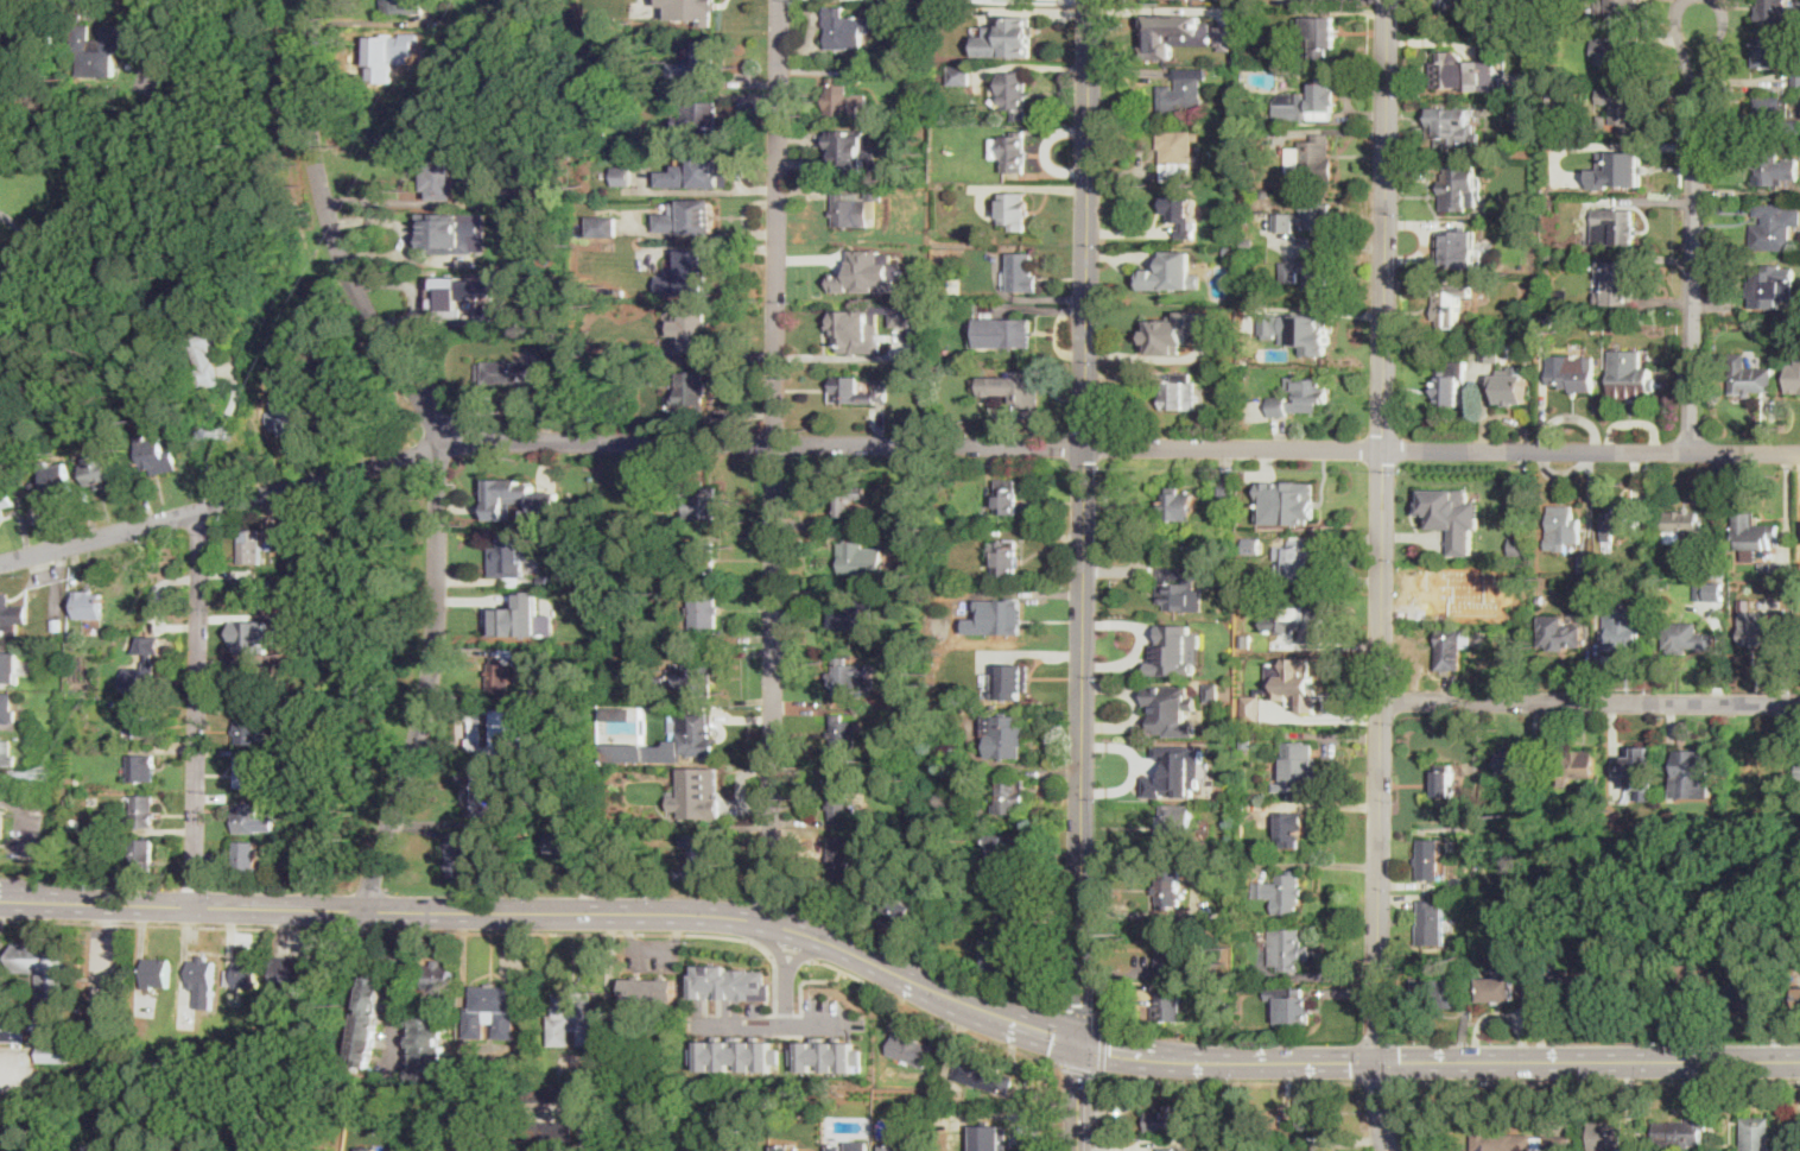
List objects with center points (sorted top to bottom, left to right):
building: (943, 0)
building: (1459, 2)
building: (395, 6)
building: (1620, 8)
building: (702, 10)
building: (1777, 12)
building: (1257, 15)
building: (516, 18)
building: (647, 20)
building: (847, 30)
building: (1172, 32)
building: (30, 34)
building: (1225, 36)
building: (1320, 36)
building: (1007, 38)
building: (488, 48)
road: (159, 49)
building: (1612, 49)
building: (96, 50)
building: (1774, 52)
building: (1628, 53)
building: (385, 57)
building: (697, 62)
building: (1235, 63)
building: (1451, 72)
building: (965, 74)
building: (1796, 77)
building: (1184, 90)
building: (1015, 93)
building: (1795, 93)
building: (837, 97)
building: (1308, 102)
building: (1624, 109)
building: (914, 113)
building: (698, 114)
building: (1772, 116)
building: (742, 120)
building: (1603, 120)
building: (1236, 124)
building: (1456, 129)
building: (924, 137)
building: (1012, 151)
building: (842, 154)
building: (1178, 154)
building: (1312, 158)
building: (1623, 166)
building: (1774, 169)
building: (701, 172)
road: (279, 173)
building: (625, 175)
road: (134, 178)
building: (442, 178)
building: (1456, 188)
building: (1266, 191)
road: (401, 202)
building: (1551, 202)
building: (856, 207)
building: (692, 209)
building: (1015, 210)
building: (1180, 214)
building: (1298, 220)
building: (604, 224)
building: (1249, 226)
building: (1612, 227)
park: (201, 228)
building: (1774, 228)
building: (454, 233)
building: (1261, 241)
road: (1696, 242)
building: (1229, 246)
building: (1541, 248)
building: (1458, 249)
building: (1551, 259)
road: (30, 265)
building: (1170, 272)
building: (866, 273)
building: (1022, 273)
building: (690, 276)
building: (1308, 276)
building: (668, 279)
building: (1621, 284)
building: (1766, 289)
building: (1449, 306)
building: (924, 309)
building: (1547, 320)
building: (1269, 325)
building: (1175, 329)
building: (690, 330)
building: (853, 330)
building: (1003, 330)
building: (1306, 331)
building: (211, 346)
building: (1777, 347)
road: (1146, 354)
building: (1490, 354)
building: (512, 372)
building: (1235, 373)
building: (1573, 375)
building: (1633, 375)
building: (912, 377)
building: (1748, 377)
building: (1793, 378)
building: (844, 386)
building: (1449, 386)
building: (1016, 388)
building: (1511, 388)
building: (692, 391)
building: (1312, 391)
building: (1178, 392)
building: (1279, 406)
building: (292, 417)
road: (474, 420)
power tower: (227, 436)
road: (215, 441)
road: (892, 443)
road: (441, 445)
building: (156, 456)
road: (773, 462)
building: (97, 472)
building: (58, 479)
building: (36, 491)
building: (1227, 494)
building: (1008, 497)
building: (6, 498)
building: (519, 498)
building: (1298, 499)
building: (851, 501)
building: (663, 502)
building: (702, 504)
building: (1178, 505)
building: (638, 511)
building: (1246, 519)
road: (1083, 520)
building: (1618, 524)
building: (1681, 525)
building: (1454, 527)
building: (1565, 527)
road: (1382, 531)
building: (1750, 532)
building: (918, 535)
building: (1250, 539)
building: (253, 546)
building: (274, 546)
building: (1519, 546)
building: (918, 549)
building: (1193, 550)
building: (509, 557)
building: (704, 557)
building: (853, 557)
building: (1006, 559)
building: (1297, 561)
building: (1584, 563)
building: (1717, 570)
building: (1782, 570)
building: (1179, 584)
building: (1606, 590)
building: (1701, 590)
building: (1447, 593)
building: (1717, 593)
building: (251, 594)
building: (920, 596)
building: (1540, 599)
building: (90, 605)
building: (702, 611)
building: (856, 613)
building: (13, 616)
building: (996, 616)
building: (522, 618)
building: (1295, 621)
building: (57, 626)
building: (1623, 627)
building: (1763, 633)
building: (249, 635)
building: (1567, 635)
building: (1687, 637)
building: (1173, 649)
building: (1452, 649)
building: (507, 652)
building: (893, 653)
building: (938, 663)
building: (9, 665)
park: (357, 666)
building: (145, 669)
building: (502, 670)
building: (692, 678)
building: (845, 679)
building: (659, 681)
building: (1012, 682)
building: (1293, 682)
building: (249, 683)
building: (1213, 691)
building: (1247, 697)
road: (1591, 701)
road: (196, 709)
building: (1173, 709)
building: (622, 713)
building: (6, 715)
building: (142, 723)
building: (249, 729)
building: (502, 731)
building: (843, 733)
building: (696, 736)
building: (1006, 736)
building: (6, 753)
building: (850, 754)
building: (1514, 763)
building: (1758, 764)
building: (1577, 765)
building: (1293, 766)
building: (1476, 766)
building: (140, 767)
building: (1637, 767)
building: (1173, 770)
power tower: (45, 772)
building: (248, 772)
building: (1693, 773)
building: (77, 780)
building: (1445, 782)
building: (477, 793)
building: (699, 795)
building: (843, 796)
building: (1010, 796)
building: (1270, 798)
building: (1736, 802)
building: (144, 811)
building: (915, 818)
building: (247, 820)
building: (1175, 822)
building: (75, 823)
building: (103, 824)
building: (1, 826)
building: (1291, 829)
building: (570, 845)
building: (77, 846)
building: (1010, 853)
building: (247, 854)
building: (461, 854)
building: (142, 856)
building: (701, 858)
building: (843, 858)
building: (917, 859)
building: (1431, 860)
building: (1170, 890)
building: (1282, 893)
road: (179, 907)
building: (900, 907)
building: (1432, 924)
road: (194, 925)
road: (406, 930)
road: (629, 932)
road: (777, 948)
building: (1170, 949)
building: (1288, 950)
road: (791, 951)
road: (799, 955)
building: (1003, 956)
road: (873, 965)
building: (158, 973)
building: (292, 974)
building: (242, 975)
building: (439, 978)
road: (807, 979)
building: (197, 984)
building: (730, 984)
building: (1246, 987)
building: (1586, 987)
road: (398, 988)
building: (1678, 988)
building: (648, 989)
building: (1498, 989)
building: (1435, 991)
building: (1750, 993)
building: (1796, 998)
road: (786, 1001)
building: (44, 1003)
building: (1168, 1004)
building: (1291, 1004)
road: (1073, 1010)
building: (492, 1012)
road: (932, 1014)
building: (369, 1020)
building: (575, 1020)
road: (773, 1026)
road: (1056, 1032)
road: (318, 1039)
road: (1378, 1039)
traffic signals: (1082, 1043)
road: (1103, 1045)
building: (427, 1049)
building: (911, 1050)
building: (734, 1056)
building: (825, 1057)
road: (1396, 1060)
road: (1361, 1061)
road: (1589, 1062)
traffic signals: (1377, 1063)
road: (1077, 1068)
road: (14, 1074)
building: (984, 1076)
road: (1378, 1080)
road: (1230, 1081)
road: (1598, 1081)
building: (550, 1092)
building: (625, 1093)
building: (52, 1096)
road: (1079, 1096)
building: (1217, 1099)
building: (1736, 1106)
road: (1378, 1107)
road: (1097, 1111)
building: (1308, 1112)
building: (1168, 1119)
building: (943, 1124)
building: (549, 1132)
building: (1681, 1133)
road: (589, 1134)
building: (1757, 1134)
building: (990, 1137)
building: (1609, 1138)
building: (1516, 1140)
building: (858, 1145)
building: (898, 1146)
building: (96, 1147)
building: (125, 1147)
building: (186, 1147)
building: (253, 1147)
building: (279, 1149)
building: (367, 1149)
building: (1165, 1149)

